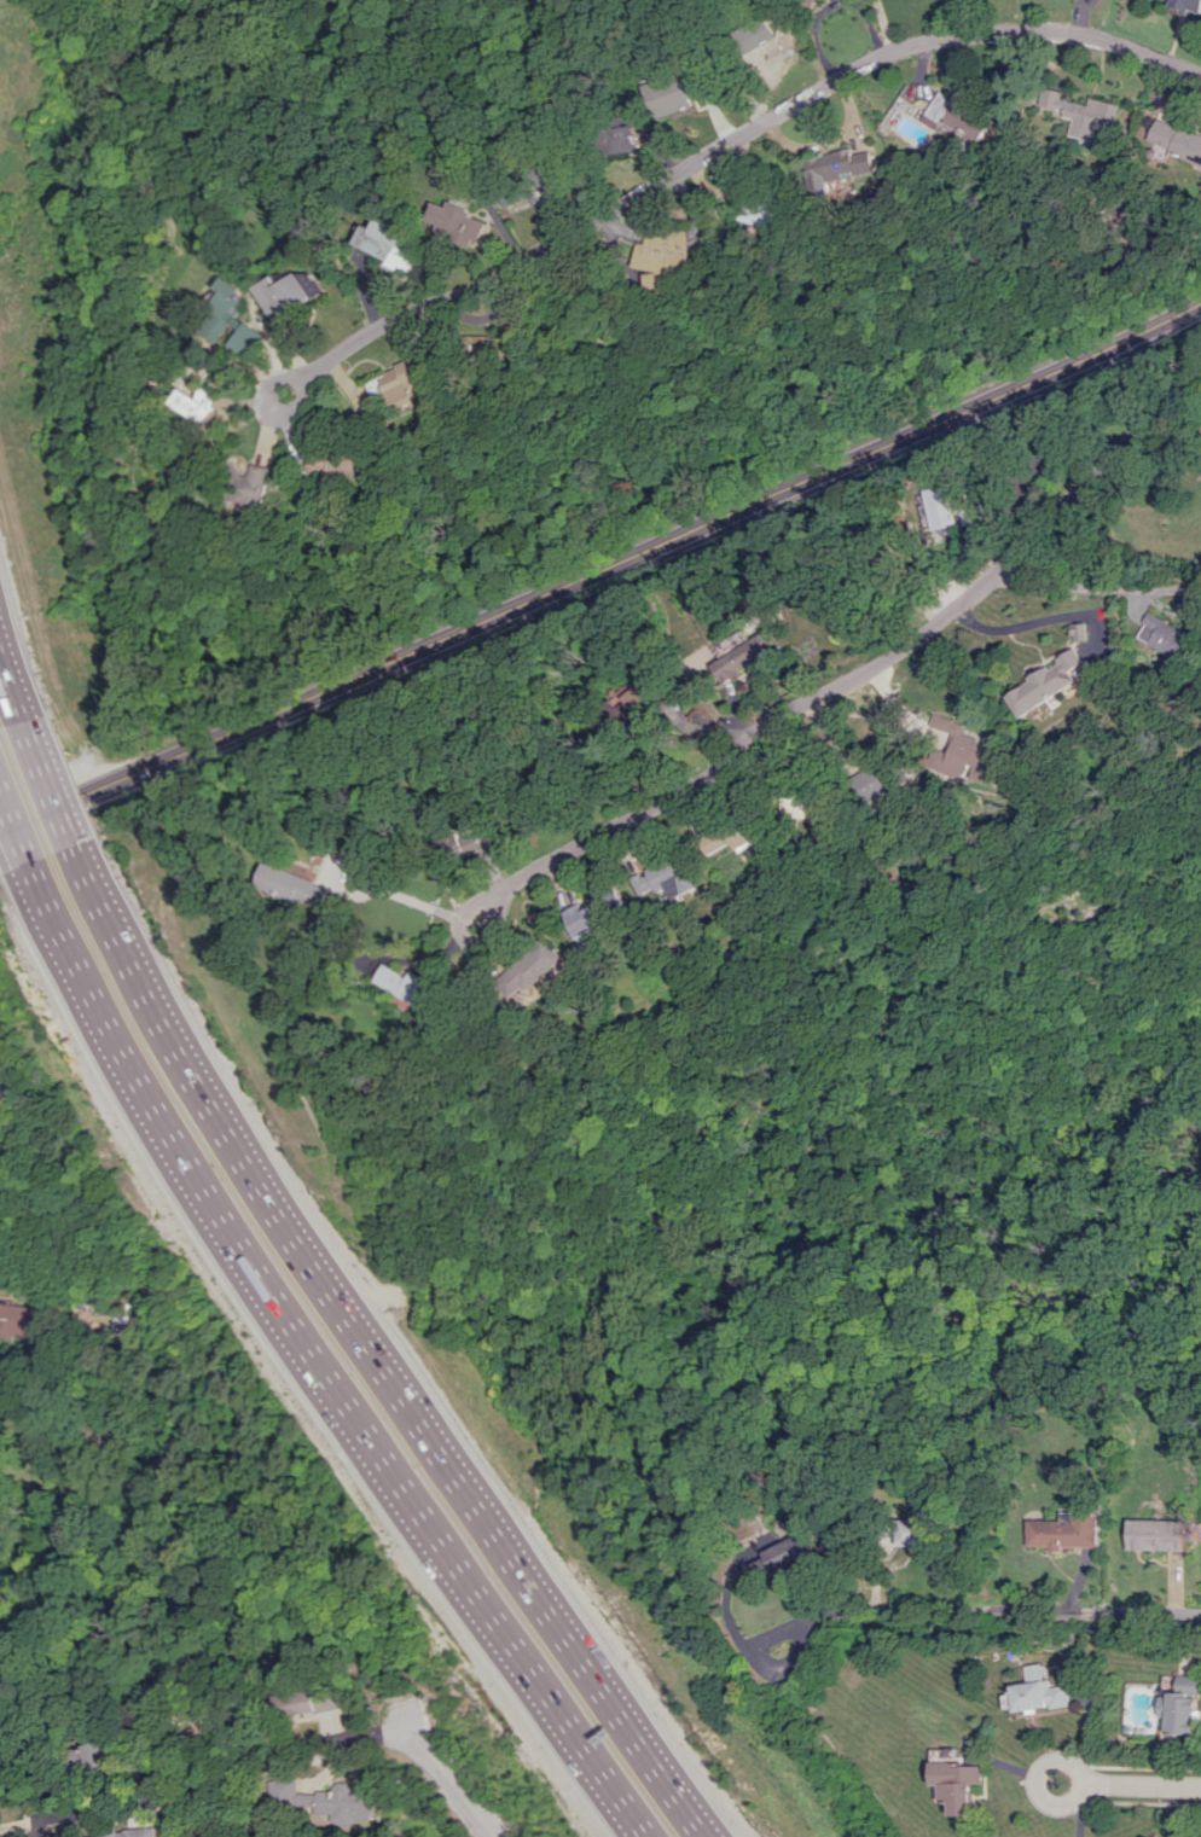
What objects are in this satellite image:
building: (810, 1)
road: (828, 4)
building: (1187, 5)
road: (881, 25)
park: (141, 30)
building: (675, 93)
building: (1084, 115)
building: (955, 117)
road: (735, 135)
building: (1176, 139)
building: (621, 140)
building: (836, 168)
building: (457, 225)
building: (391, 244)
building: (665, 252)
building: (288, 295)
building: (231, 326)
building: (406, 380)
road: (269, 389)
building: (197, 405)
building: (338, 461)
building: (260, 488)
building: (941, 510)
road: (600, 568)
road: (1096, 586)
road: (1014, 624)
building: (1165, 636)
building: (748, 651)
road: (876, 663)
building: (1046, 684)
road: (10, 691)
building: (625, 702)
building: (965, 754)
building: (874, 784)
road: (40, 786)
building: (802, 806)
building: (744, 833)
road: (11, 835)
building: (466, 843)
building: (662, 877)
building: (291, 886)
road: (372, 891)
building: (588, 914)
road: (466, 940)
building: (536, 965)
building: (407, 987)
building: (14, 1321)
road: (348, 1360)
road: (300, 1368)
building: (1063, 1530)
building: (916, 1531)
building: (1155, 1534)
building: (781, 1553)
road: (1034, 1612)
road: (808, 1616)
building: (1037, 1692)
building: (308, 1703)
building: (1182, 1707)
building: (94, 1755)
road: (222, 1772)
road: (449, 1780)
building: (959, 1784)
road: (1147, 1784)
road: (1040, 1785)
building: (326, 1801)
road: (18, 1825)
building: (134, 1833)
building: (1151, 1836)

